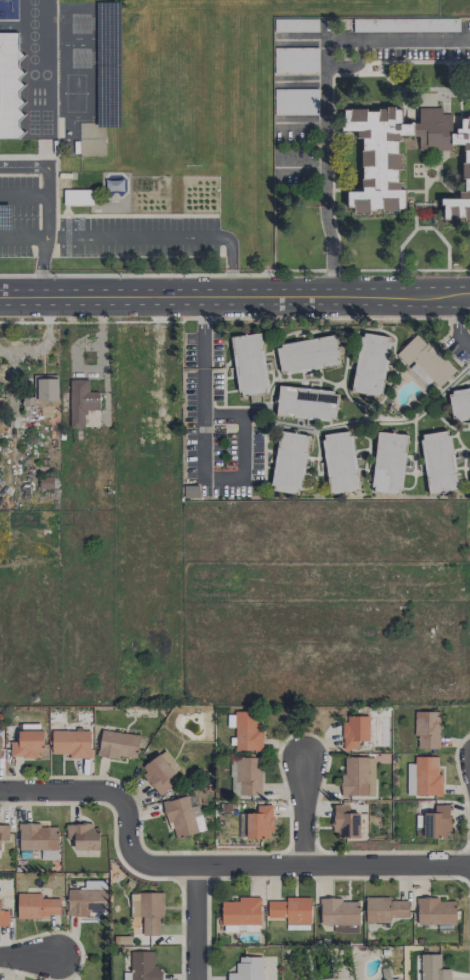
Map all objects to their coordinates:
building: (295, 24)
building: (405, 24)
building: (295, 60)
building: (9, 86)
road: (323, 94)
building: (295, 101)
building: (380, 170)
road: (22, 196)
building: (77, 196)
road: (44, 209)
road: (22, 236)
road: (164, 236)
road: (234, 296)
road: (234, 317)
road: (458, 323)
road: (101, 336)
building: (308, 354)
building: (425, 361)
building: (249, 364)
building: (371, 364)
road: (201, 387)
building: (44, 394)
building: (81, 402)
building: (306, 403)
building: (459, 403)
building: (161, 415)
road: (241, 425)
building: (289, 462)
building: (340, 462)
building: (389, 462)
building: (438, 462)
road: (222, 477)
building: (245, 730)
building: (427, 730)
building: (354, 731)
building: (27, 741)
building: (71, 743)
building: (118, 744)
building: (0, 747)
building: (159, 772)
building: (358, 776)
building: (424, 777)
road: (302, 810)
building: (183, 815)
building: (259, 822)
building: (345, 822)
building: (435, 822)
building: (3, 832)
building: (83, 836)
building: (39, 839)
road: (209, 865)
building: (87, 899)
building: (36, 906)
building: (384, 909)
building: (148, 911)
building: (291, 911)
building: (435, 911)
building: (241, 914)
building: (339, 914)
building: (4, 917)
road: (196, 923)
road: (29, 956)
building: (144, 966)
building: (432, 968)
building: (247, 969)
building: (394, 979)

